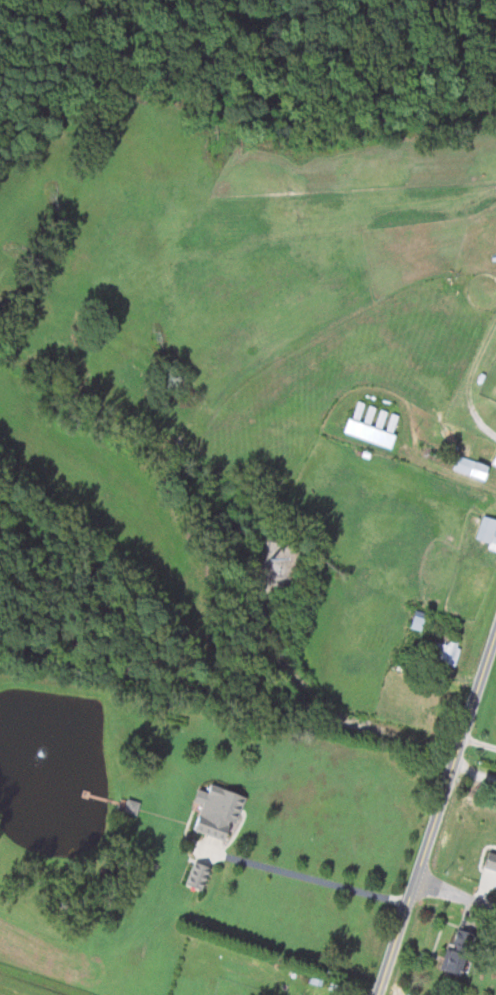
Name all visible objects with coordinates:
road: (470, 379)
building: (367, 432)
building: (494, 460)
building: (467, 466)
road: (449, 472)
building: (486, 531)
building: (445, 651)
road: (479, 741)
road: (474, 768)
building: (131, 806)
building: (215, 811)
road: (436, 813)
building: (491, 861)
building: (195, 875)
road: (305, 876)
road: (455, 892)
building: (455, 951)

